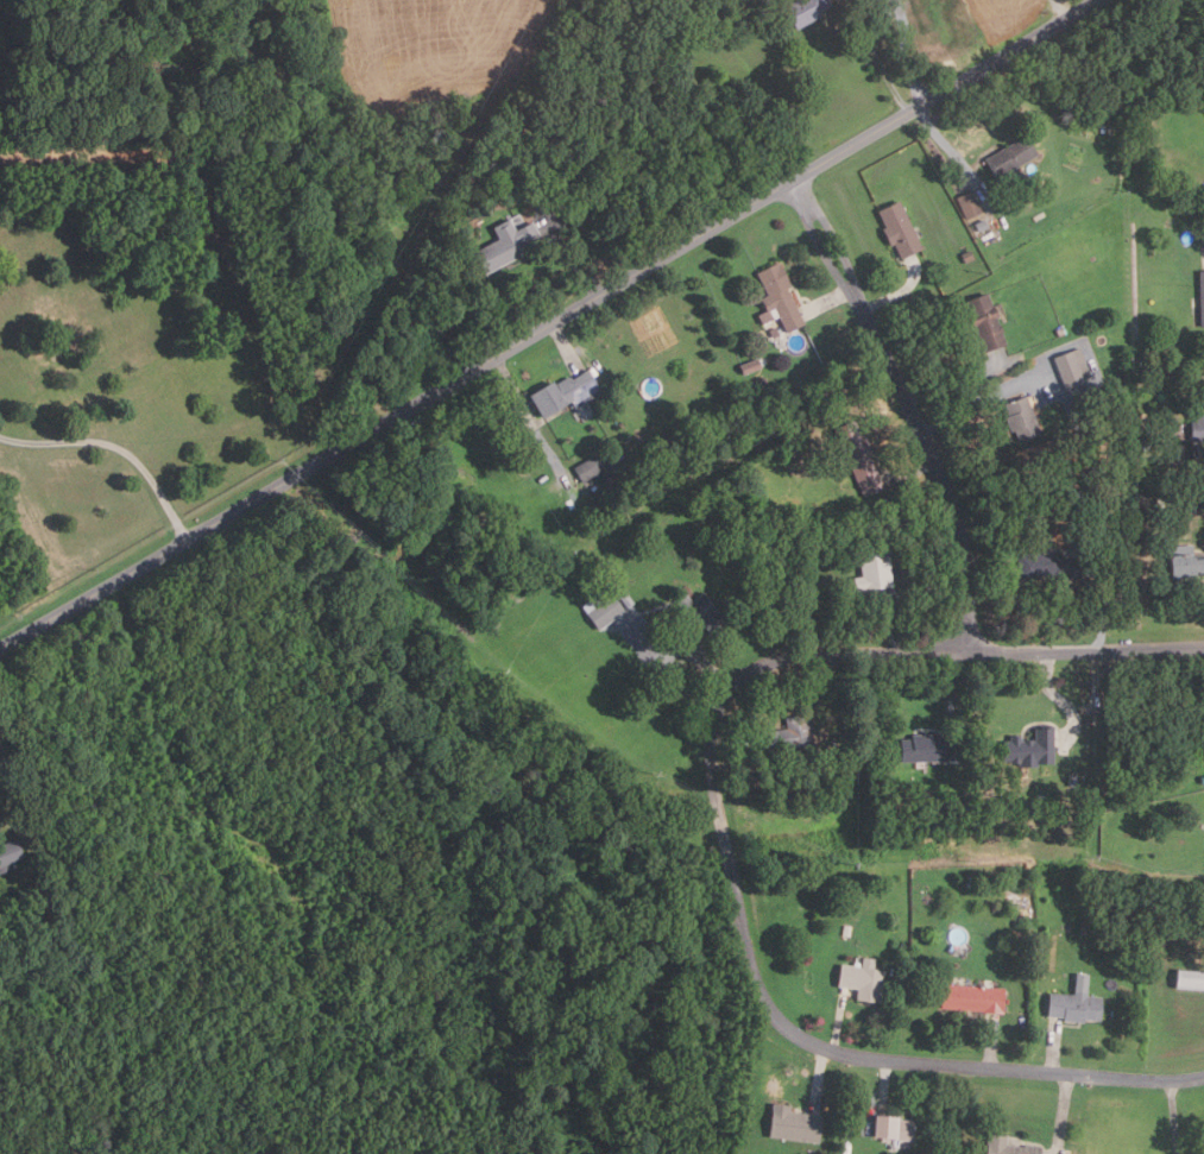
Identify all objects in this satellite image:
building: (723, 1)
building: (802, 11)
road: (1055, 13)
road: (875, 57)
building: (538, 143)
building: (1008, 158)
building: (391, 159)
road: (958, 160)
building: (967, 203)
road: (579, 207)
building: (979, 226)
building: (896, 229)
building: (500, 246)
building: (966, 256)
road: (897, 294)
building: (775, 298)
building: (1200, 298)
road: (830, 299)
building: (983, 322)
road: (553, 327)
building: (770, 333)
road: (566, 346)
building: (748, 367)
building: (1070, 367)
building: (1146, 376)
road: (953, 383)
building: (750, 385)
building: (561, 393)
road: (982, 401)
road: (908, 410)
building: (1019, 418)
road: (530, 422)
building: (1197, 423)
road: (118, 448)
building: (619, 452)
building: (856, 458)
road: (1198, 460)
building: (629, 461)
building: (590, 468)
road: (914, 474)
building: (1073, 496)
building: (1187, 506)
building: (814, 512)
building: (1181, 562)
building: (1047, 563)
building: (870, 572)
road: (909, 587)
building: (604, 606)
road: (1105, 610)
building: (696, 614)
road: (664, 657)
road: (958, 701)
road: (1063, 701)
building: (787, 733)
road: (730, 743)
building: (1028, 748)
building: (919, 749)
building: (1070, 778)
road: (723, 833)
building: (11, 855)
building: (1152, 913)
building: (1116, 922)
building: (1083, 928)
building: (846, 929)
building: (859, 978)
building: (1189, 979)
building: (969, 998)
building: (1072, 1005)
road: (837, 1022)
road: (990, 1042)
road: (1054, 1047)
road: (819, 1078)
road: (884, 1082)
road: (1061, 1114)
road: (1179, 1117)
building: (789, 1123)
building: (887, 1127)
building: (1004, 1146)

